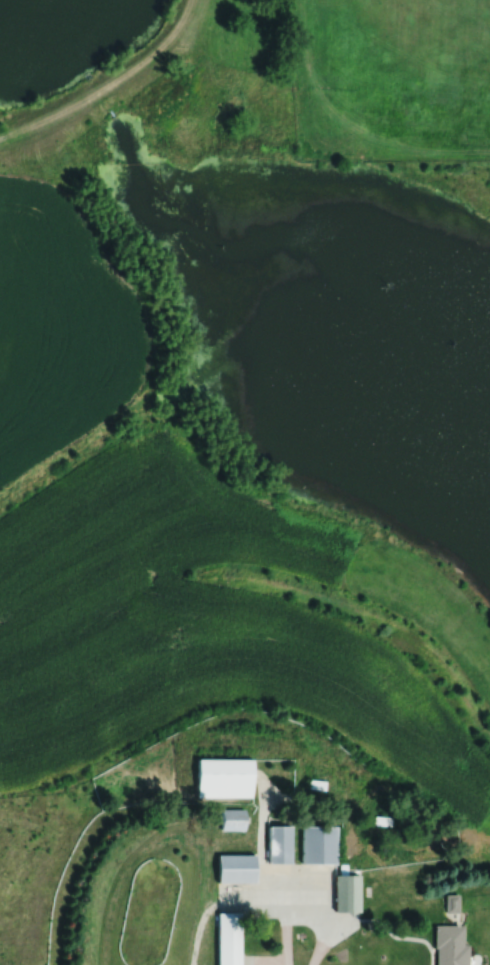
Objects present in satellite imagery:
building: (224, 779)
building: (233, 820)
building: (280, 845)
building: (320, 845)
building: (237, 868)
building: (347, 893)
road: (281, 910)
road: (340, 922)
building: (230, 938)
building: (450, 946)

